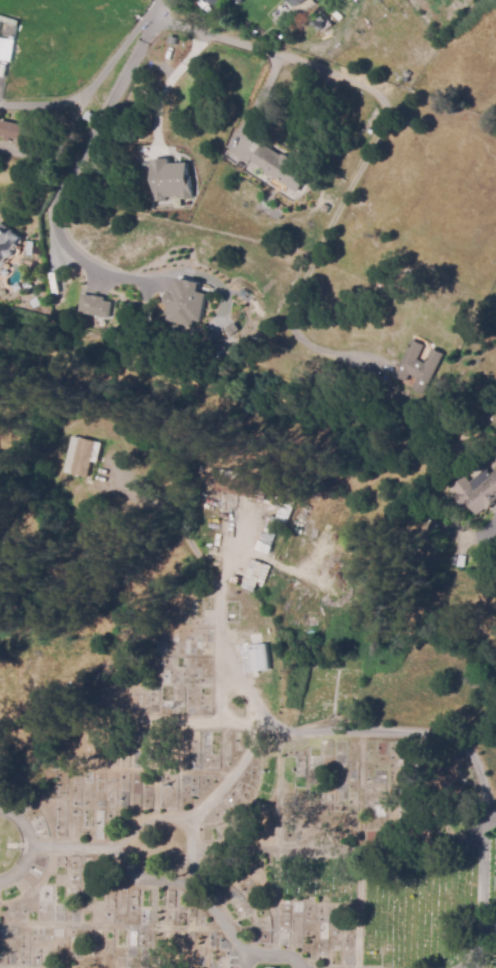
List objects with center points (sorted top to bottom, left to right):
building: (215, 1)
building: (239, 1)
building: (294, 2)
building: (253, 5)
building: (5, 49)
road: (97, 80)
road: (252, 105)
building: (87, 117)
building: (16, 133)
road: (369, 154)
building: (280, 168)
road: (69, 171)
building: (170, 179)
building: (325, 208)
building: (7, 243)
building: (185, 303)
building: (95, 306)
building: (419, 367)
building: (83, 455)
building: (237, 484)
building: (477, 492)
building: (276, 524)
building: (455, 561)
building: (258, 572)
building: (259, 657)
road: (222, 685)
park: (215, 704)
road: (128, 718)
road: (402, 733)
road: (244, 751)
road: (116, 842)
road: (30, 844)
road: (143, 879)
road: (481, 890)
road: (488, 924)
road: (272, 955)

